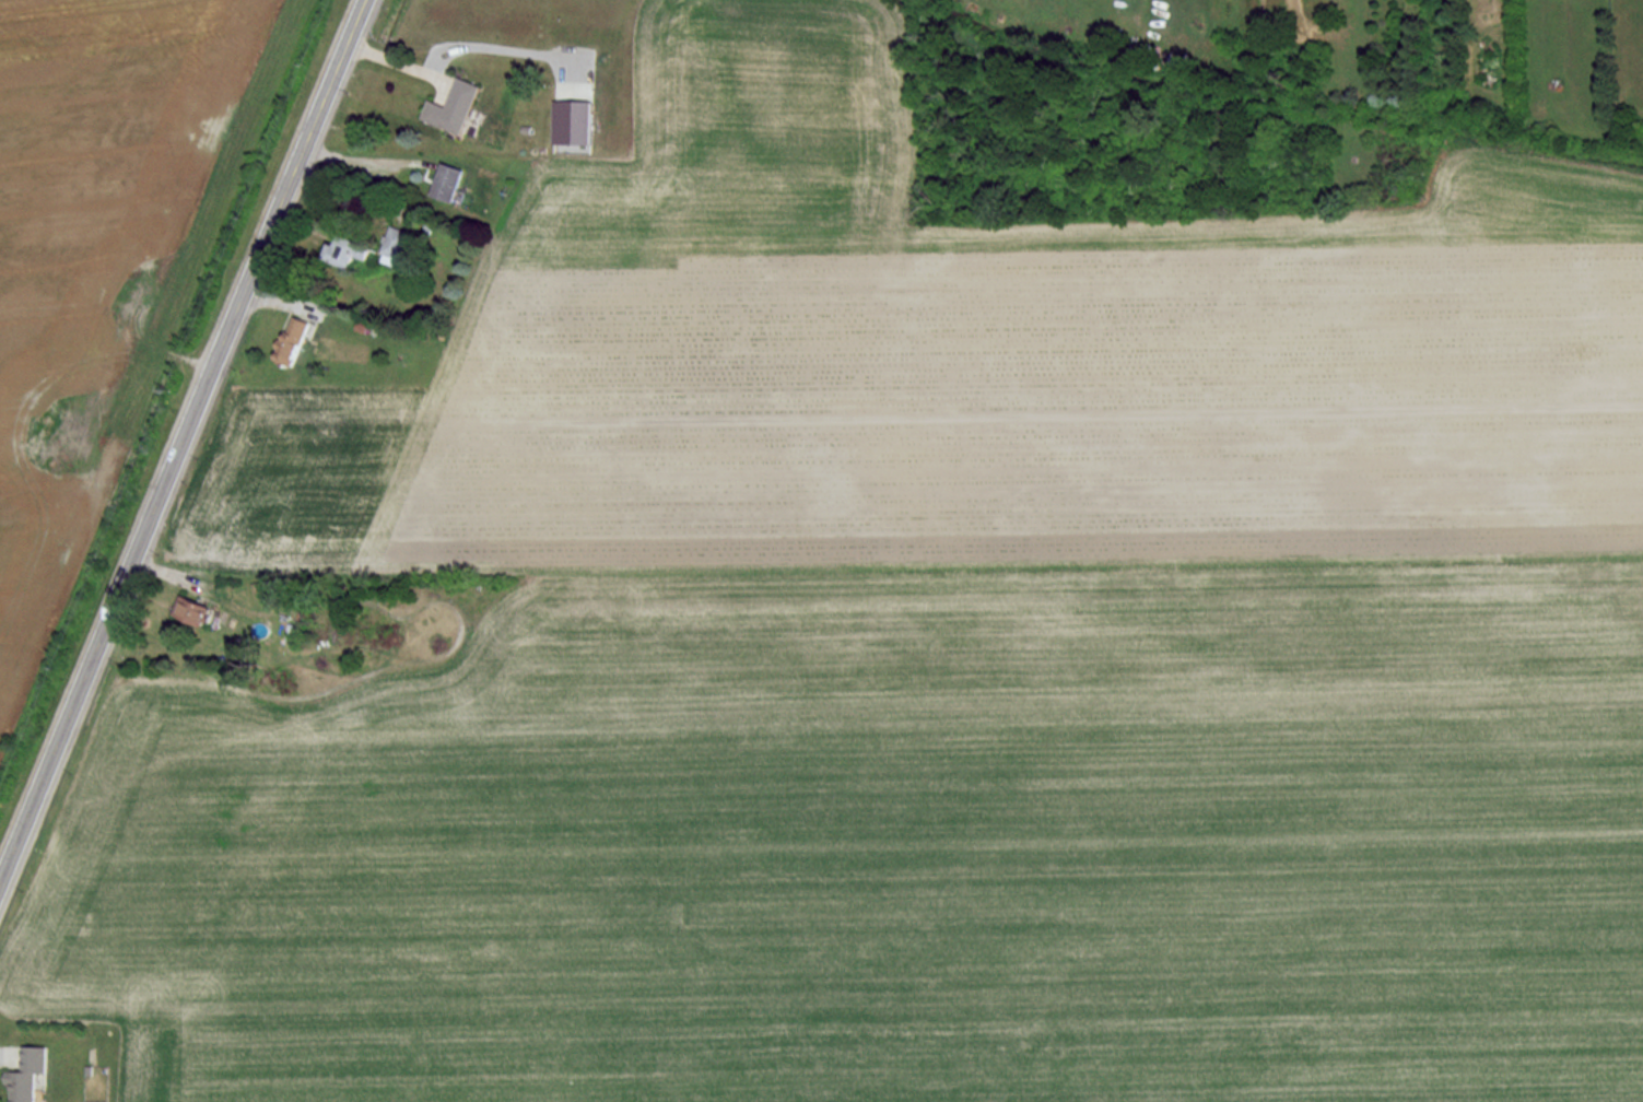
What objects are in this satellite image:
road: (401, 60)
building: (455, 106)
building: (573, 121)
road: (371, 160)
building: (450, 181)
building: (395, 245)
building: (351, 250)
building: (293, 340)
road: (181, 441)
building: (192, 610)
building: (28, 1074)

